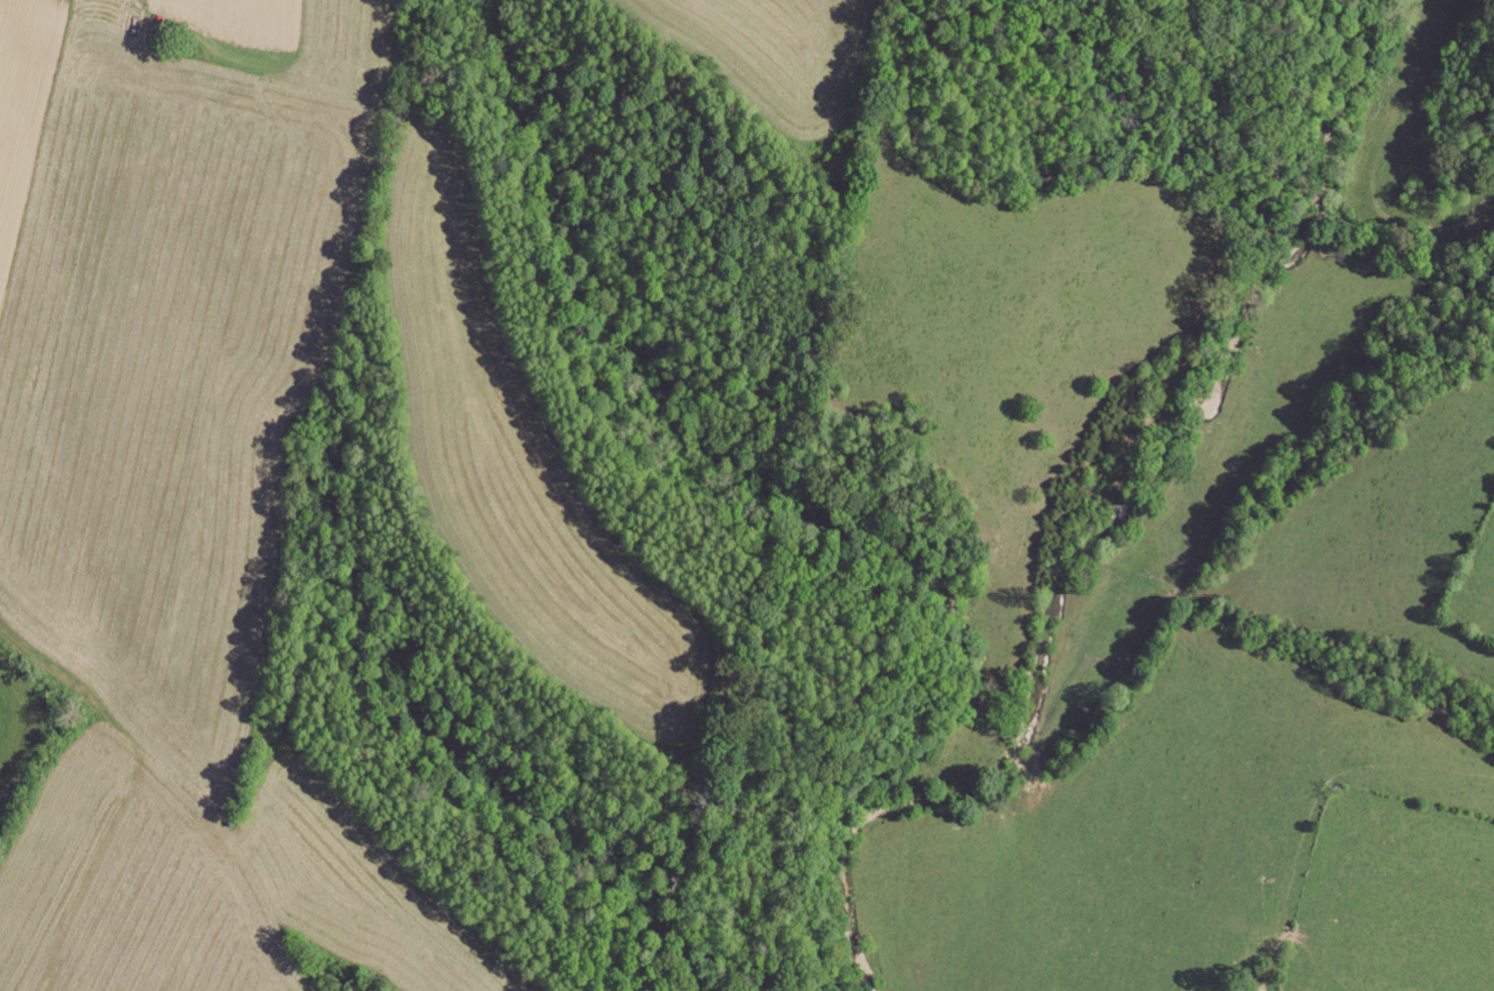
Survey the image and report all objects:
road: (1276, 869)

